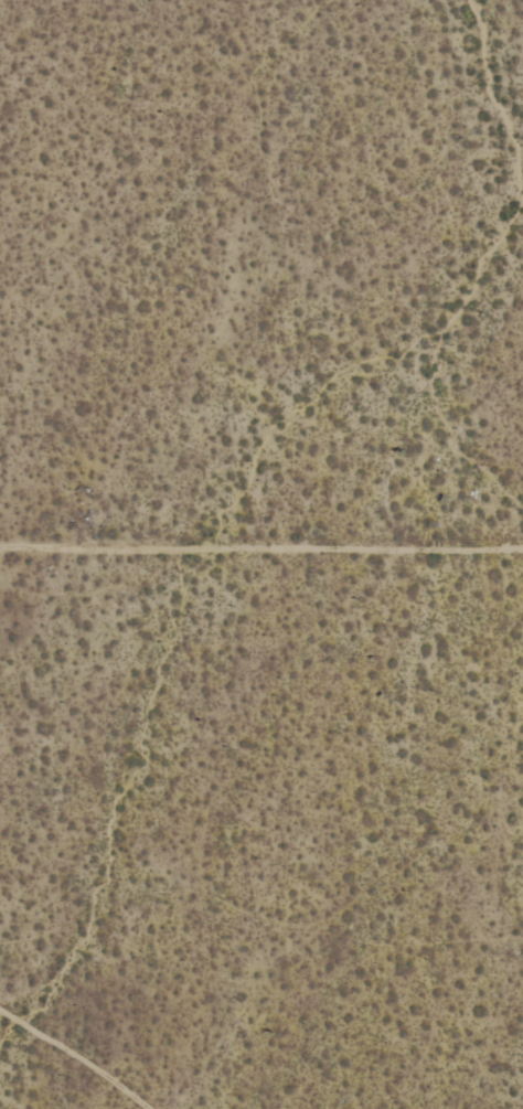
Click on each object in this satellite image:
road: (260, 546)

